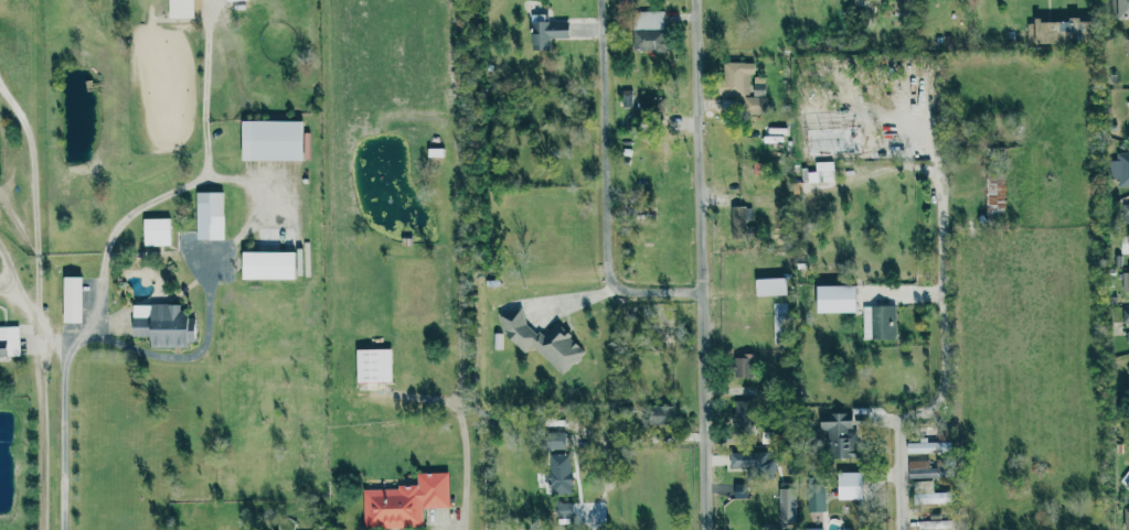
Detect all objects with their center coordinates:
building: (180, 8)
building: (1121, 8)
building: (649, 30)
building: (1053, 30)
building: (548, 32)
building: (1126, 44)
building: (743, 86)
building: (1128, 102)
road: (596, 141)
building: (1120, 169)
building: (994, 193)
building: (1125, 214)
building: (209, 215)
road: (254, 215)
building: (739, 218)
building: (156, 230)
road: (4, 259)
building: (267, 264)
road: (689, 264)
road: (2, 272)
road: (643, 281)
building: (1127, 281)
building: (770, 285)
building: (834, 298)
building: (71, 299)
building: (1126, 320)
building: (880, 322)
building: (162, 324)
building: (541, 339)
building: (9, 340)
building: (1128, 356)
road: (929, 357)
building: (373, 365)
building: (743, 369)
road: (39, 396)
building: (660, 413)
building: (742, 419)
road: (64, 422)
road: (465, 433)
building: (837, 433)
building: (555, 440)
building: (927, 446)
building: (750, 462)
building: (917, 468)
building: (558, 473)
road: (609, 473)
building: (845, 478)
building: (1127, 485)
building: (924, 491)
building: (814, 495)
building: (404, 501)
building: (1126, 518)
building: (812, 529)

